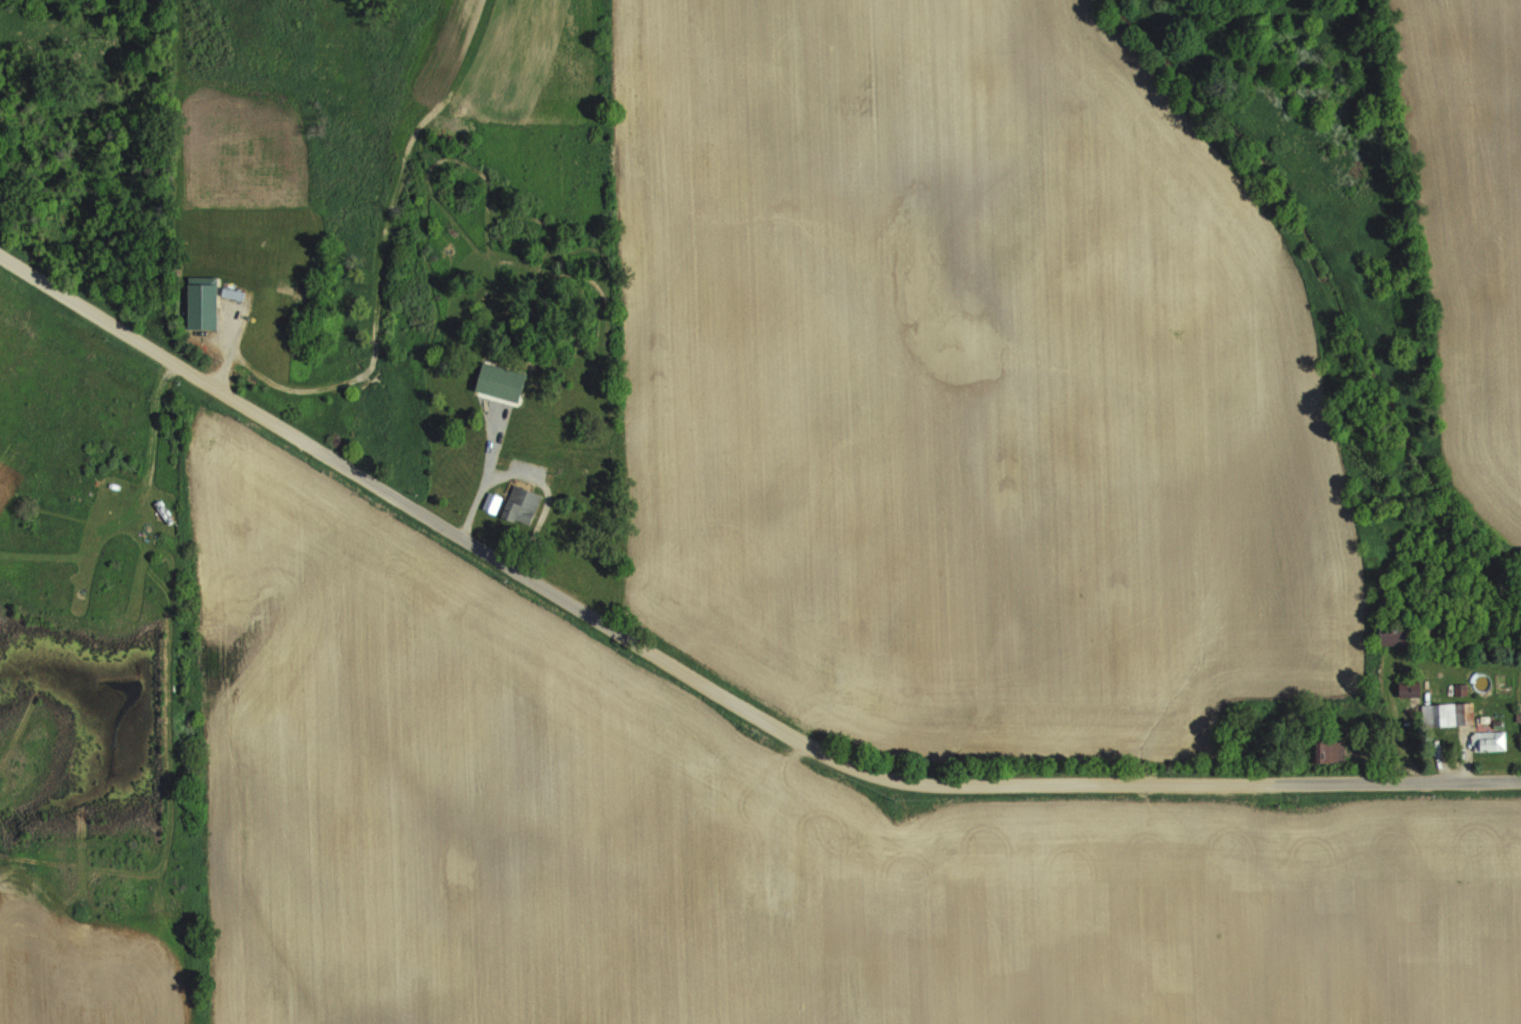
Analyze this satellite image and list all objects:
building: (232, 293)
building: (501, 382)
building: (491, 503)
building: (521, 505)
building: (1396, 633)
road: (720, 641)
building: (1409, 689)
building: (1447, 715)
building: (1518, 717)
building: (1489, 741)
building: (1330, 751)

